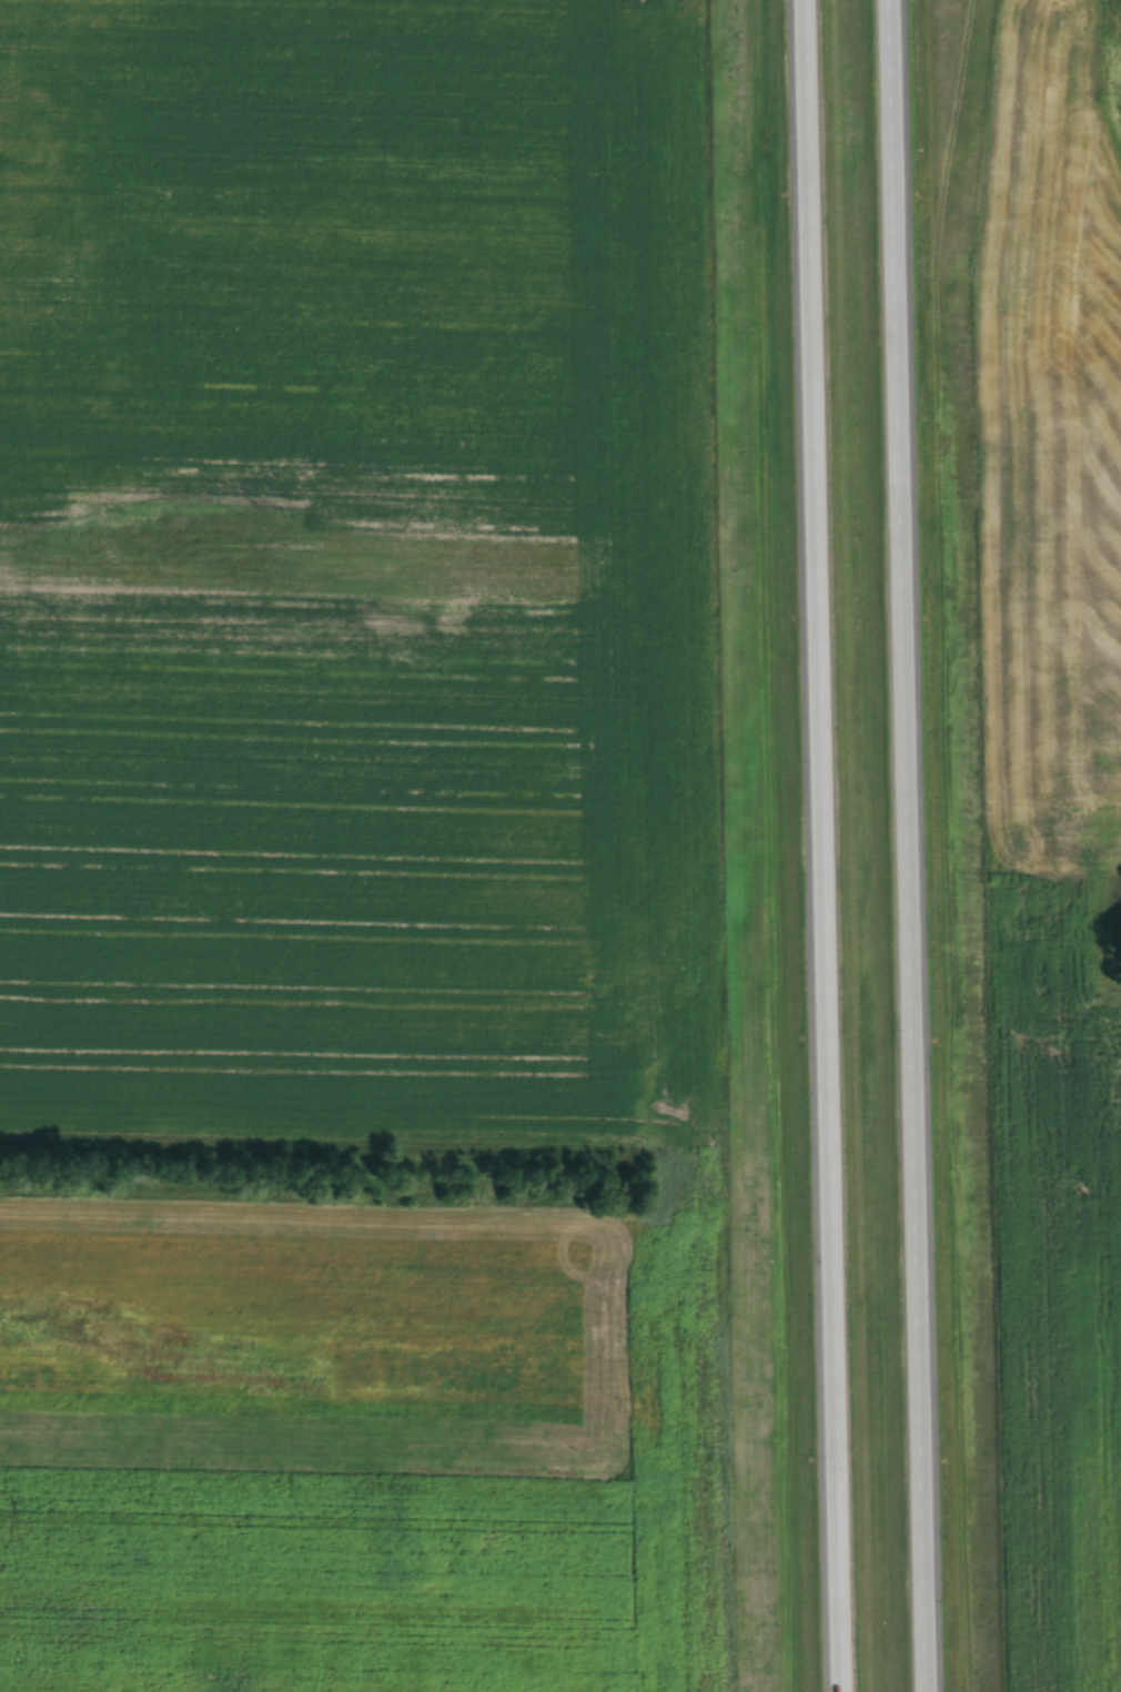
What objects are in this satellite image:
road: (830, 845)
road: (920, 845)

